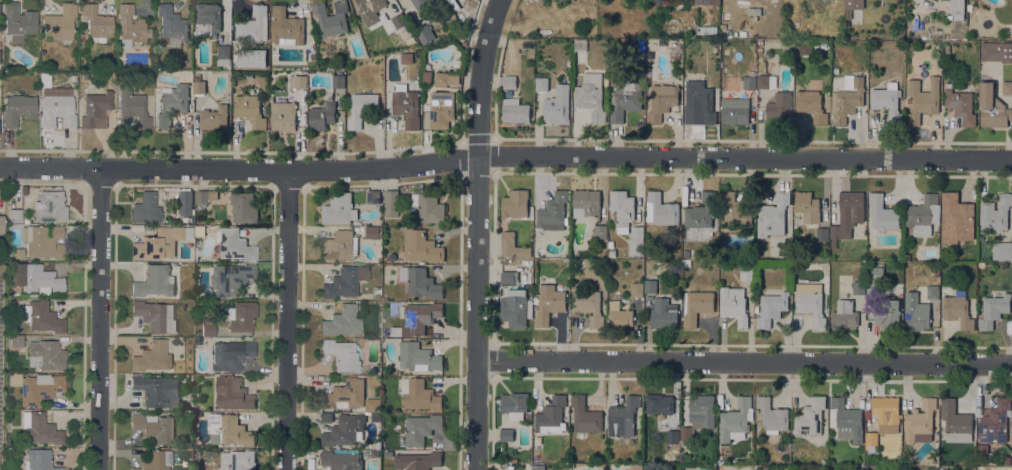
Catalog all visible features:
building: (706, 2)
building: (426, 4)
building: (852, 6)
building: (969, 7)
building: (957, 9)
building: (370, 10)
building: (753, 10)
building: (725, 15)
building: (331, 17)
building: (207, 19)
building: (398, 20)
building: (18, 21)
building: (59, 22)
building: (97, 22)
building: (172, 23)
building: (253, 25)
building: (286, 26)
building: (722, 26)
building: (131, 27)
building: (707, 29)
building: (742, 33)
building: (424, 34)
building: (725, 35)
building: (311, 44)
building: (759, 44)
building: (690, 46)
building: (674, 49)
building: (805, 49)
building: (996, 51)
building: (759, 52)
building: (223, 55)
building: (406, 57)
building: (197, 76)
building: (441, 78)
building: (338, 80)
building: (749, 80)
building: (509, 81)
building: (766, 81)
building: (541, 83)
building: (298, 85)
building: (199, 87)
building: (1007, 88)
building: (591, 95)
building: (624, 98)
building: (847, 98)
building: (348, 99)
building: (700, 99)
building: (922, 99)
building: (661, 101)
building: (888, 101)
building: (172, 103)
building: (406, 105)
building: (557, 105)
building: (811, 105)
building: (960, 105)
building: (58, 106)
building: (133, 106)
building: (992, 107)
building: (362, 108)
building: (780, 108)
building: (19, 109)
building: (95, 109)
building: (441, 109)
building: (249, 110)
building: (515, 110)
building: (735, 110)
building: (283, 115)
building: (321, 117)
building: (214, 118)
road: (703, 140)
road: (505, 156)
road: (42, 183)
building: (205, 195)
building: (374, 196)
building: (185, 202)
building: (391, 202)
building: (515, 203)
building: (585, 203)
building: (50, 206)
building: (243, 207)
building: (429, 207)
building: (146, 208)
building: (338, 208)
building: (622, 208)
building: (661, 209)
building: (553, 210)
building: (736, 210)
building: (700, 211)
building: (883, 212)
building: (996, 212)
building: (810, 213)
building: (848, 214)
building: (923, 214)
building: (15, 215)
building: (772, 215)
building: (956, 218)
building: (2, 228)
building: (199, 230)
building: (373, 231)
building: (600, 231)
road: (477, 233)
building: (42, 241)
building: (636, 241)
building: (161, 242)
building: (235, 244)
building: (340, 245)
building: (513, 245)
building: (420, 246)
building: (1002, 250)
building: (19, 253)
building: (907, 257)
road: (493, 258)
building: (746, 272)
building: (509, 276)
building: (37, 278)
building: (231, 278)
building: (874, 279)
building: (153, 281)
building: (345, 281)
building: (420, 282)
building: (650, 285)
building: (859, 287)
building: (378, 289)
building: (637, 289)
building: (933, 291)
building: (810, 302)
building: (549, 303)
building: (733, 304)
building: (696, 305)
building: (589, 306)
building: (514, 307)
building: (771, 308)
building: (957, 308)
building: (993, 309)
building: (915, 312)
building: (663, 314)
building: (888, 314)
building: (155, 315)
building: (242, 315)
building: (619, 315)
building: (844, 315)
building: (41, 316)
building: (416, 318)
road: (99, 319)
road: (287, 320)
building: (342, 321)
building: (208, 326)
road: (84, 328)
building: (16, 341)
building: (46, 354)
building: (231, 354)
building: (342, 355)
building: (153, 356)
building: (418, 356)
road: (743, 362)
building: (14, 379)
road: (708, 379)
building: (40, 388)
building: (157, 390)
building: (233, 393)
building: (344, 394)
building: (419, 394)
building: (659, 403)
building: (371, 404)
building: (514, 404)
building: (702, 409)
building: (886, 413)
building: (197, 414)
building: (551, 415)
building: (585, 415)
building: (772, 415)
building: (623, 416)
building: (810, 416)
building: (326, 417)
building: (375, 417)
building: (736, 419)
building: (845, 419)
building: (920, 421)
building: (956, 421)
building: (994, 422)
building: (154, 427)
building: (421, 427)
building: (40, 428)
building: (229, 429)
building: (344, 430)
building: (686, 432)
building: (506, 434)
building: (871, 442)
building: (378, 445)
building: (982, 448)
building: (375, 453)
building: (39, 460)
building: (155, 460)
building: (237, 460)
building: (341, 460)
building: (418, 460)
building: (1008, 460)
building: (537, 467)
building: (634, 467)

